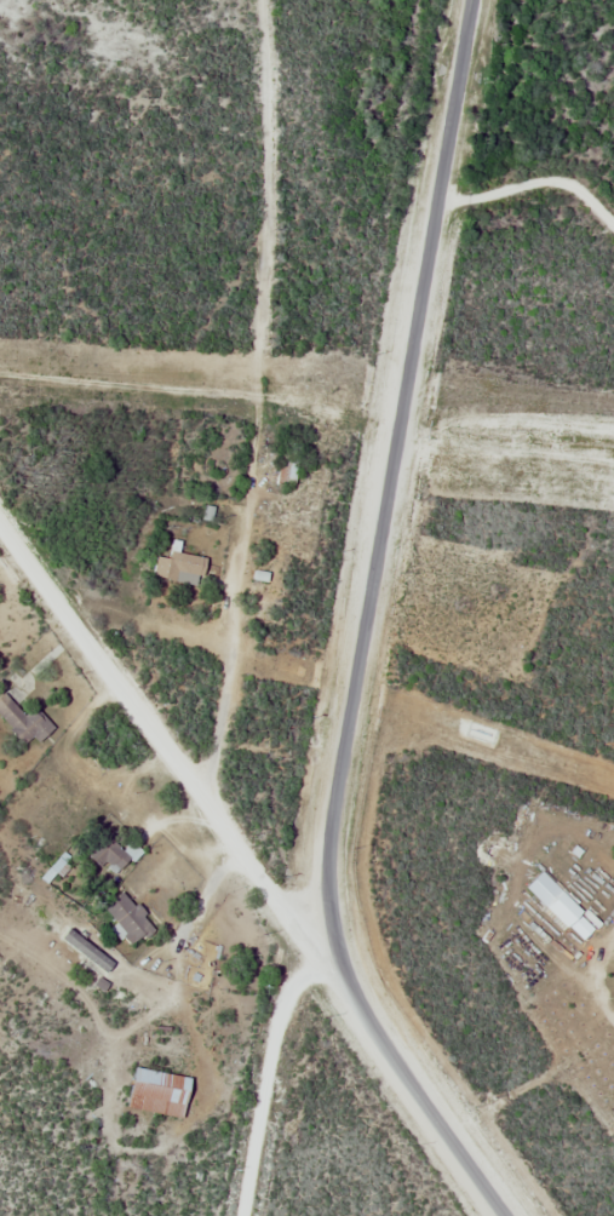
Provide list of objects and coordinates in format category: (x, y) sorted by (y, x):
building: (287, 469)
road: (388, 494)
building: (182, 567)
building: (24, 722)
road: (172, 757)
building: (110, 855)
building: (128, 918)
building: (160, 1092)
road: (430, 1102)

